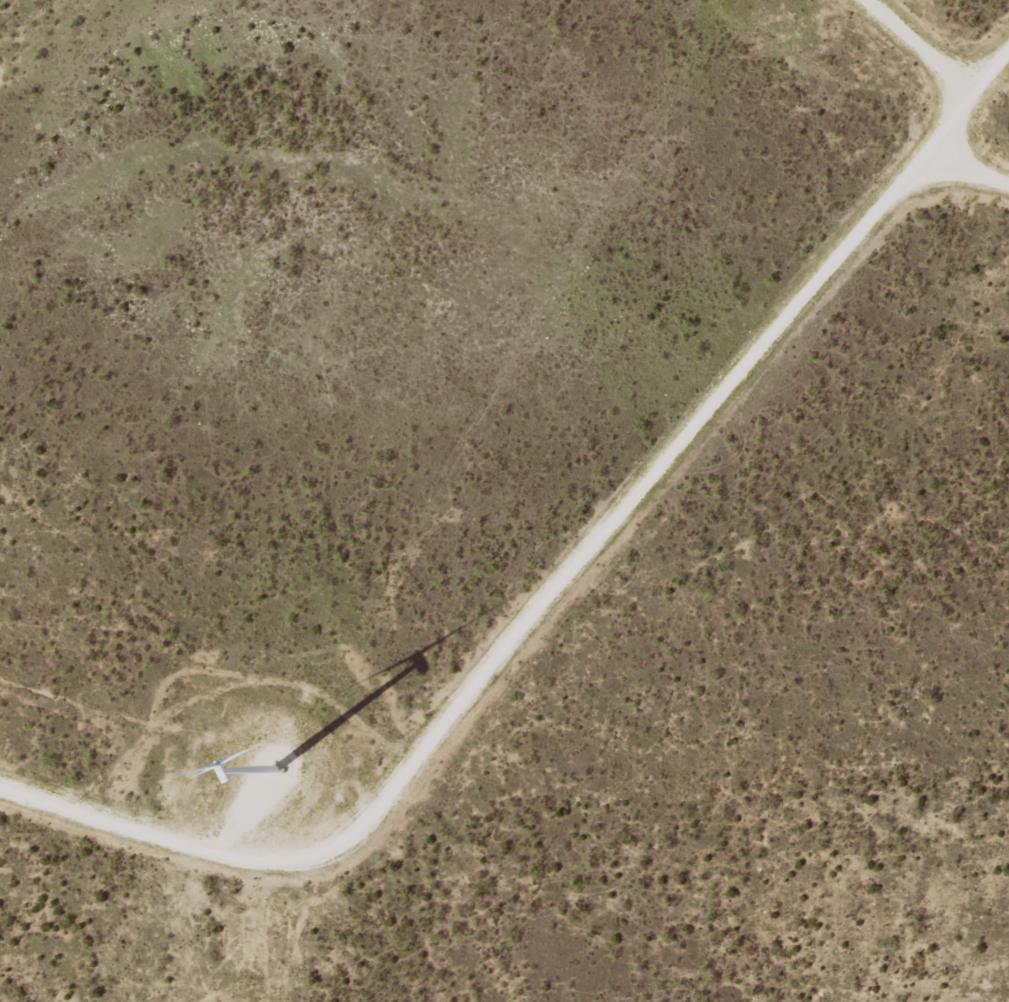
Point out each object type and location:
wind turbine: (277, 770)

